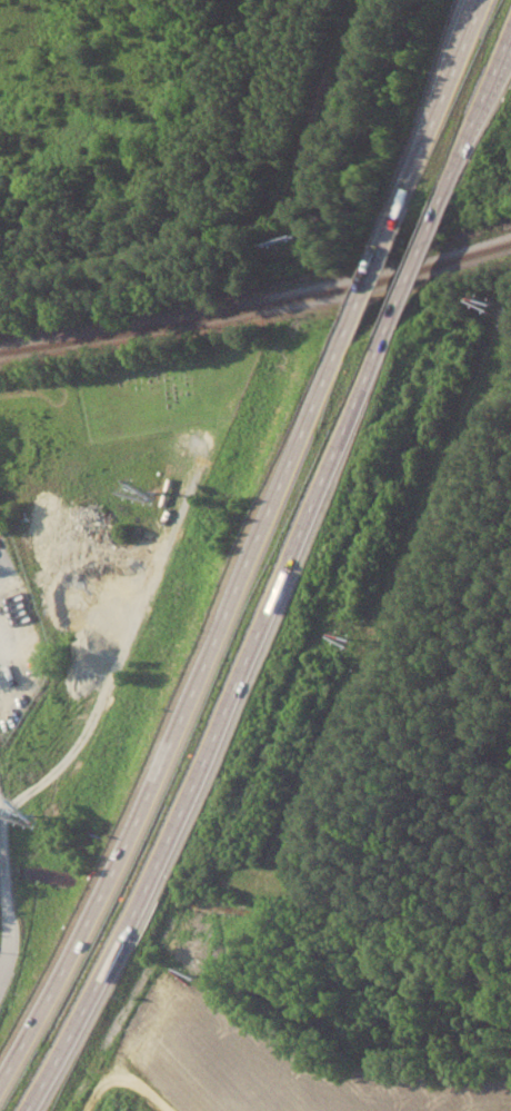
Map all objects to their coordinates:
road: (493, 86)
road: (441, 105)
road: (477, 115)
road: (415, 262)
road: (369, 278)
railway: (257, 305)
road: (186, 711)
road: (219, 725)
road: (13, 900)
road: (8, 1081)
road: (122, 1081)
road: (157, 1108)

